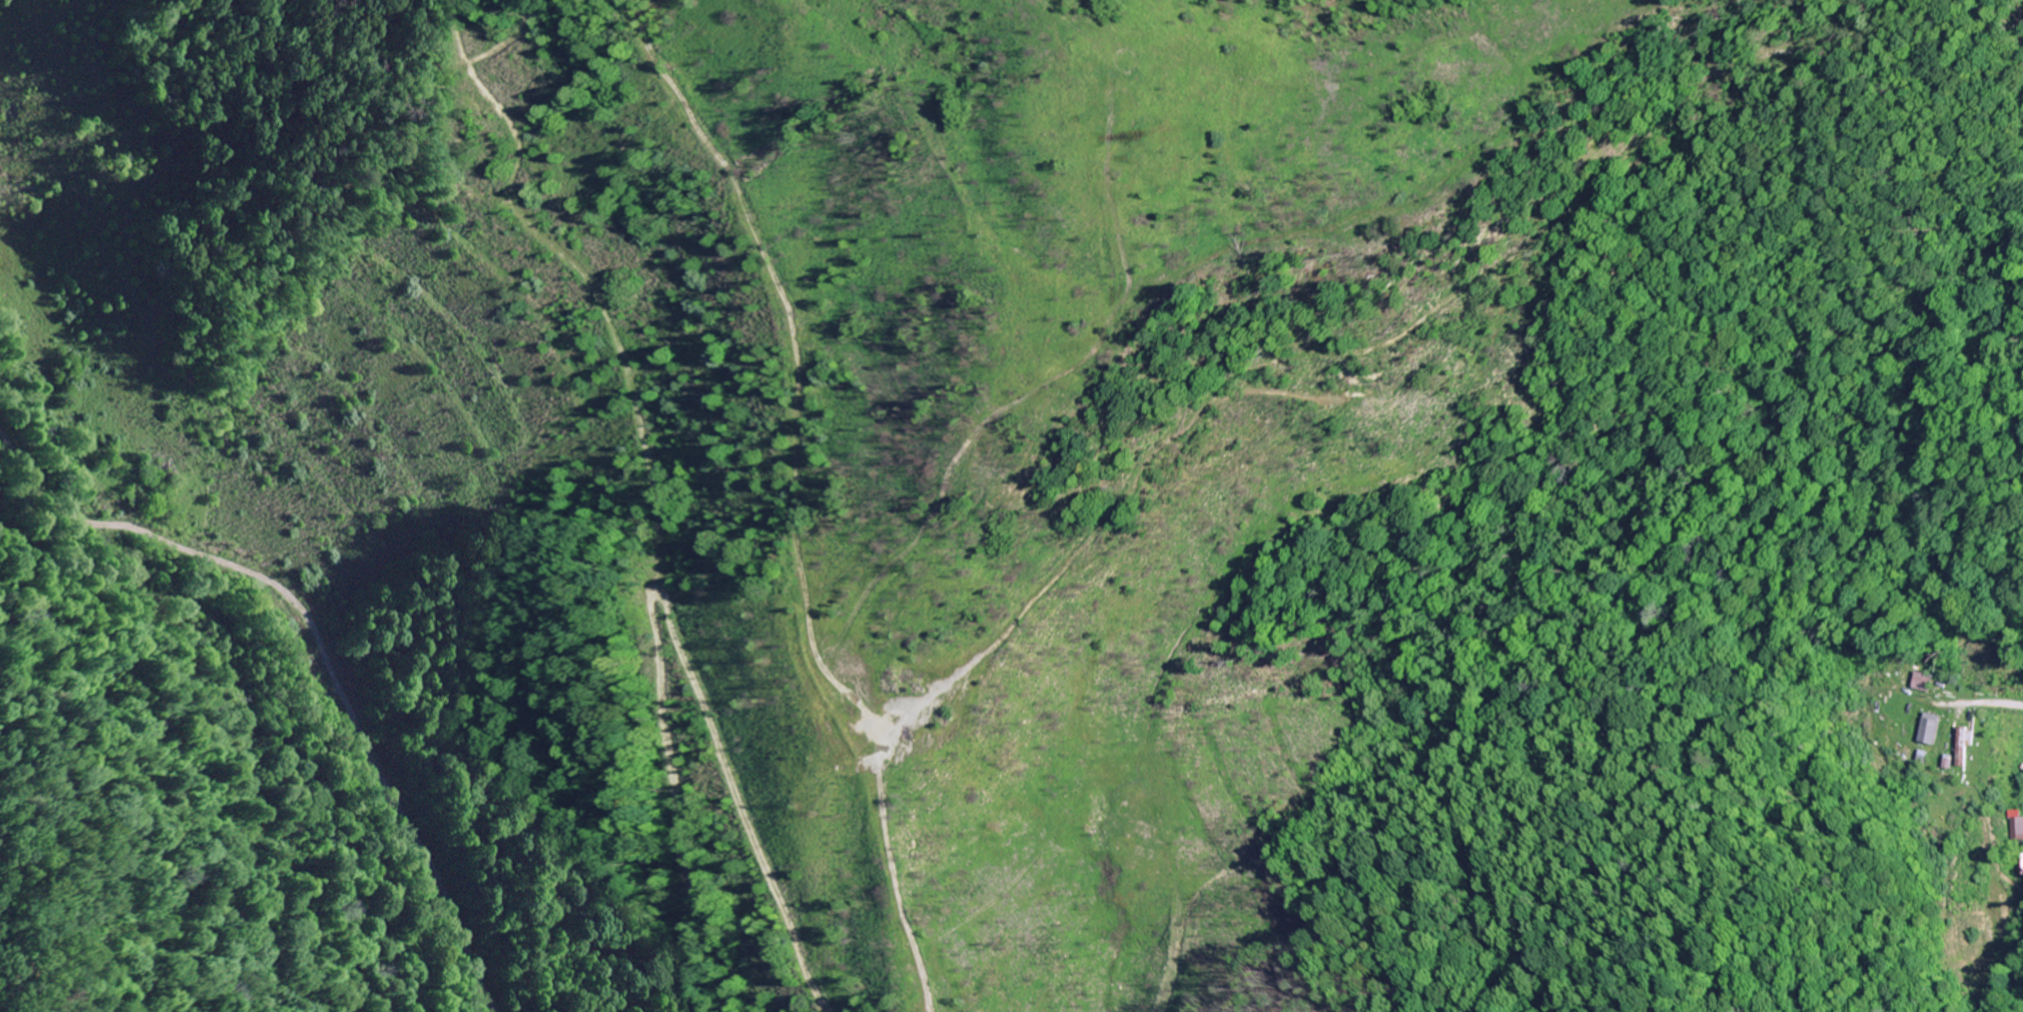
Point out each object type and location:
building: (1920, 682)
building: (1962, 745)
building: (2019, 866)

